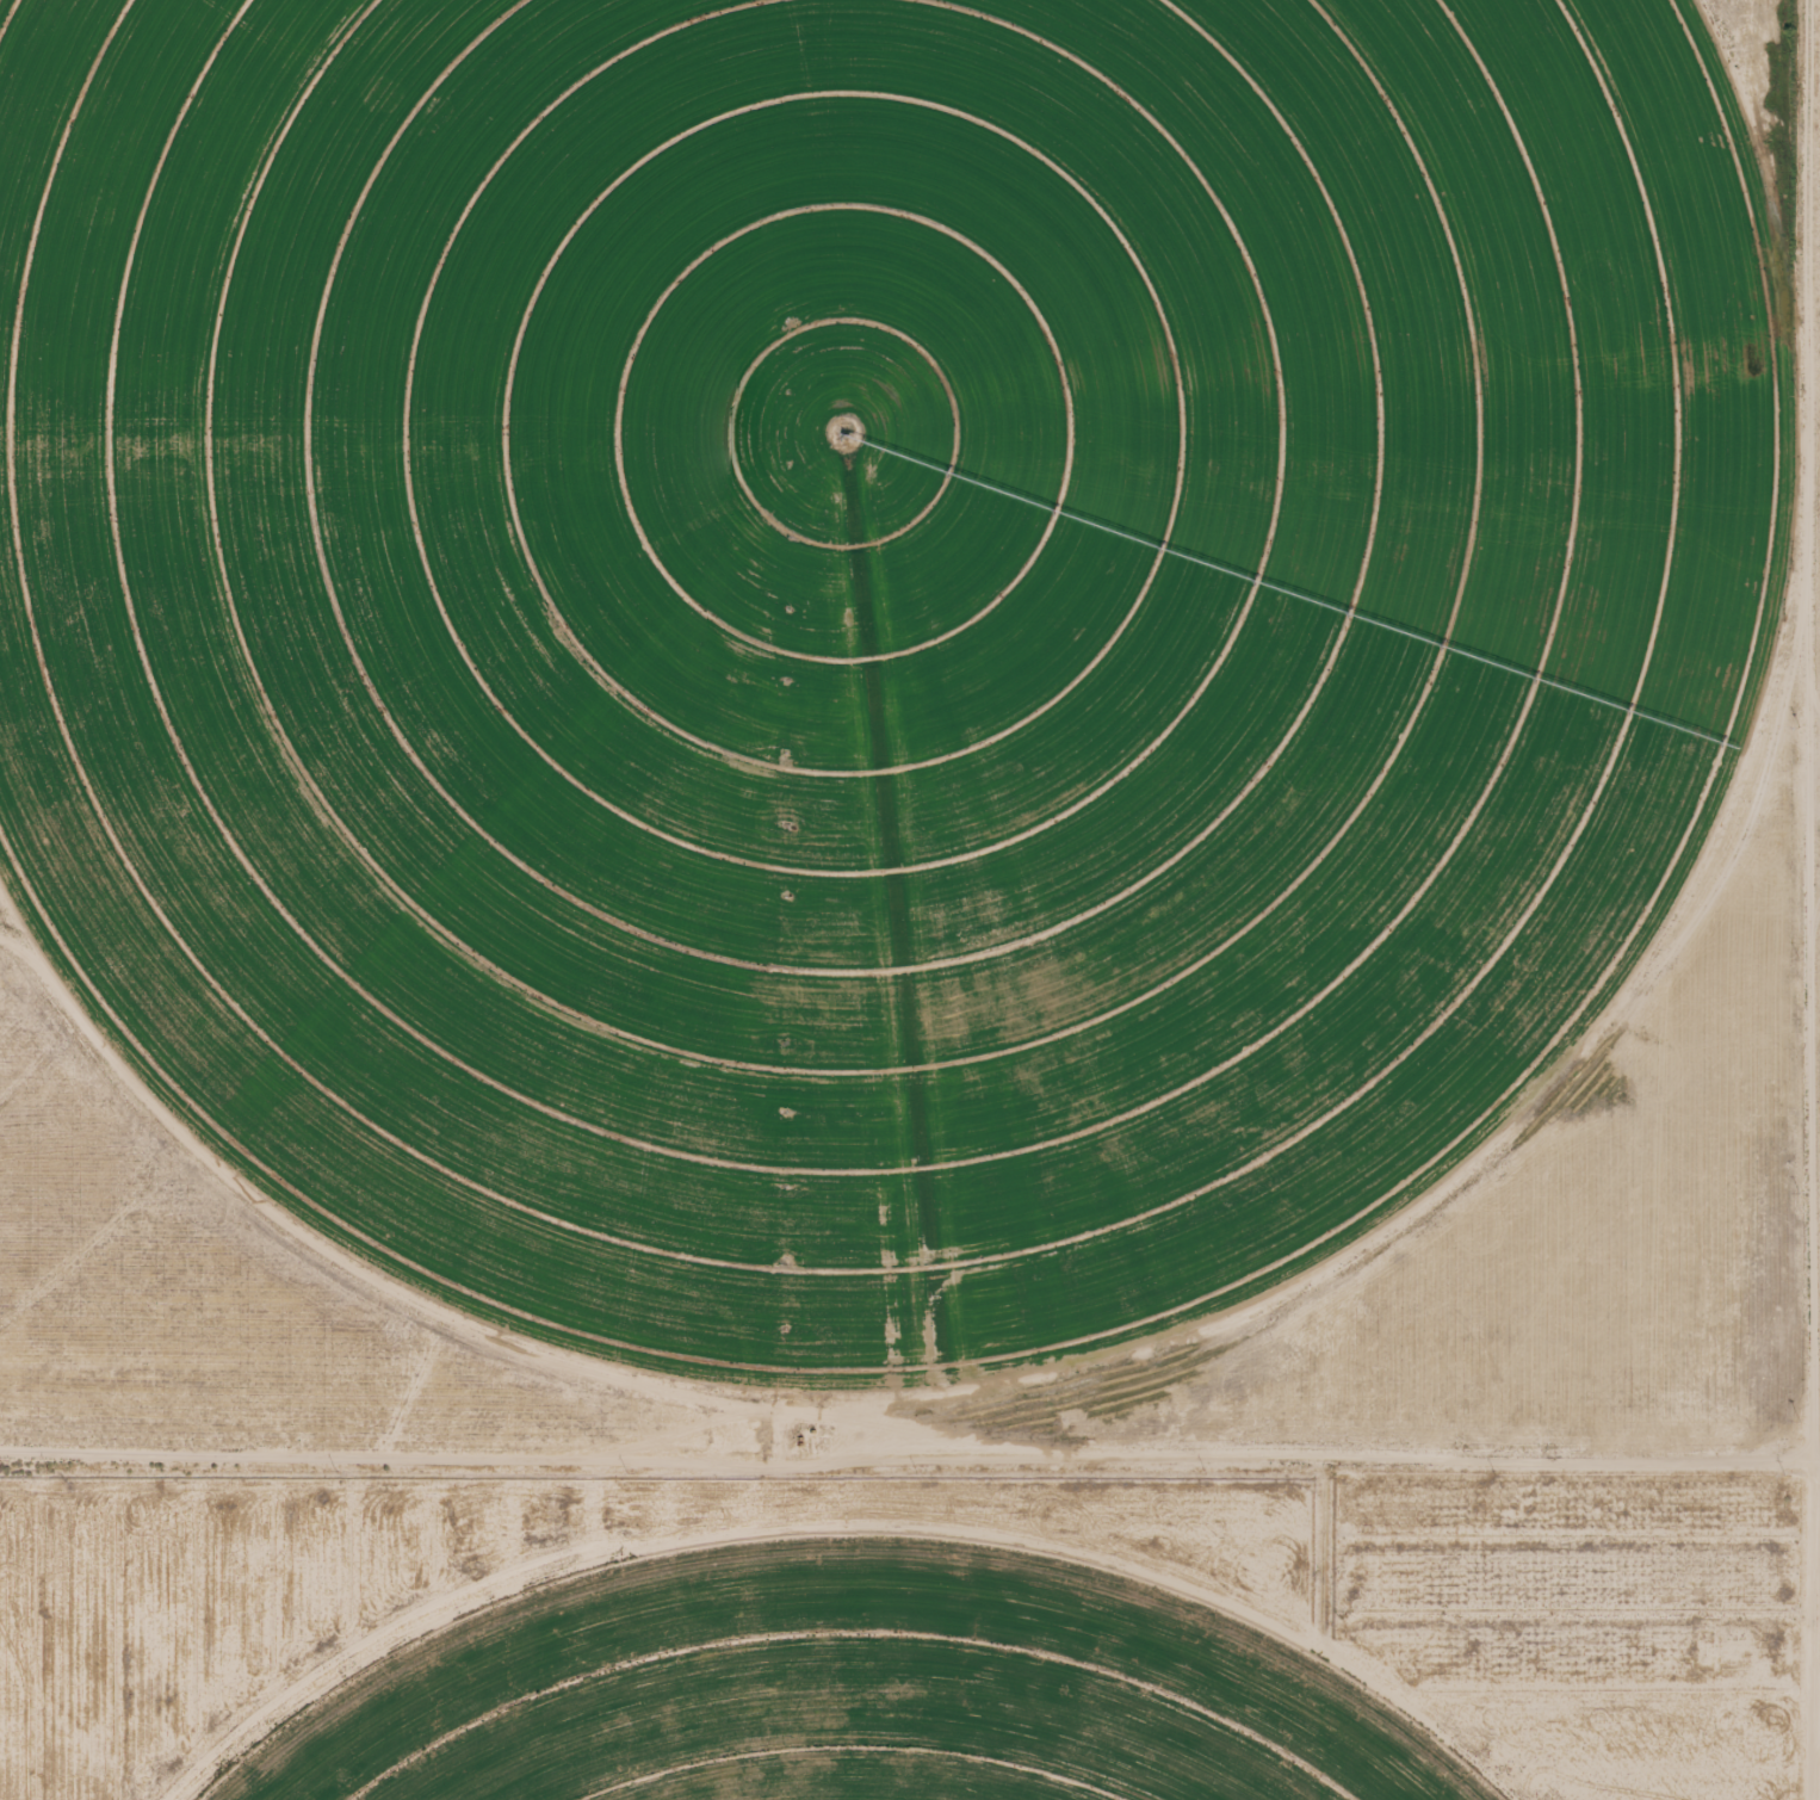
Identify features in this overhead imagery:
crop: (869, 618)
road: (910, 1439)
crop: (853, 1693)

